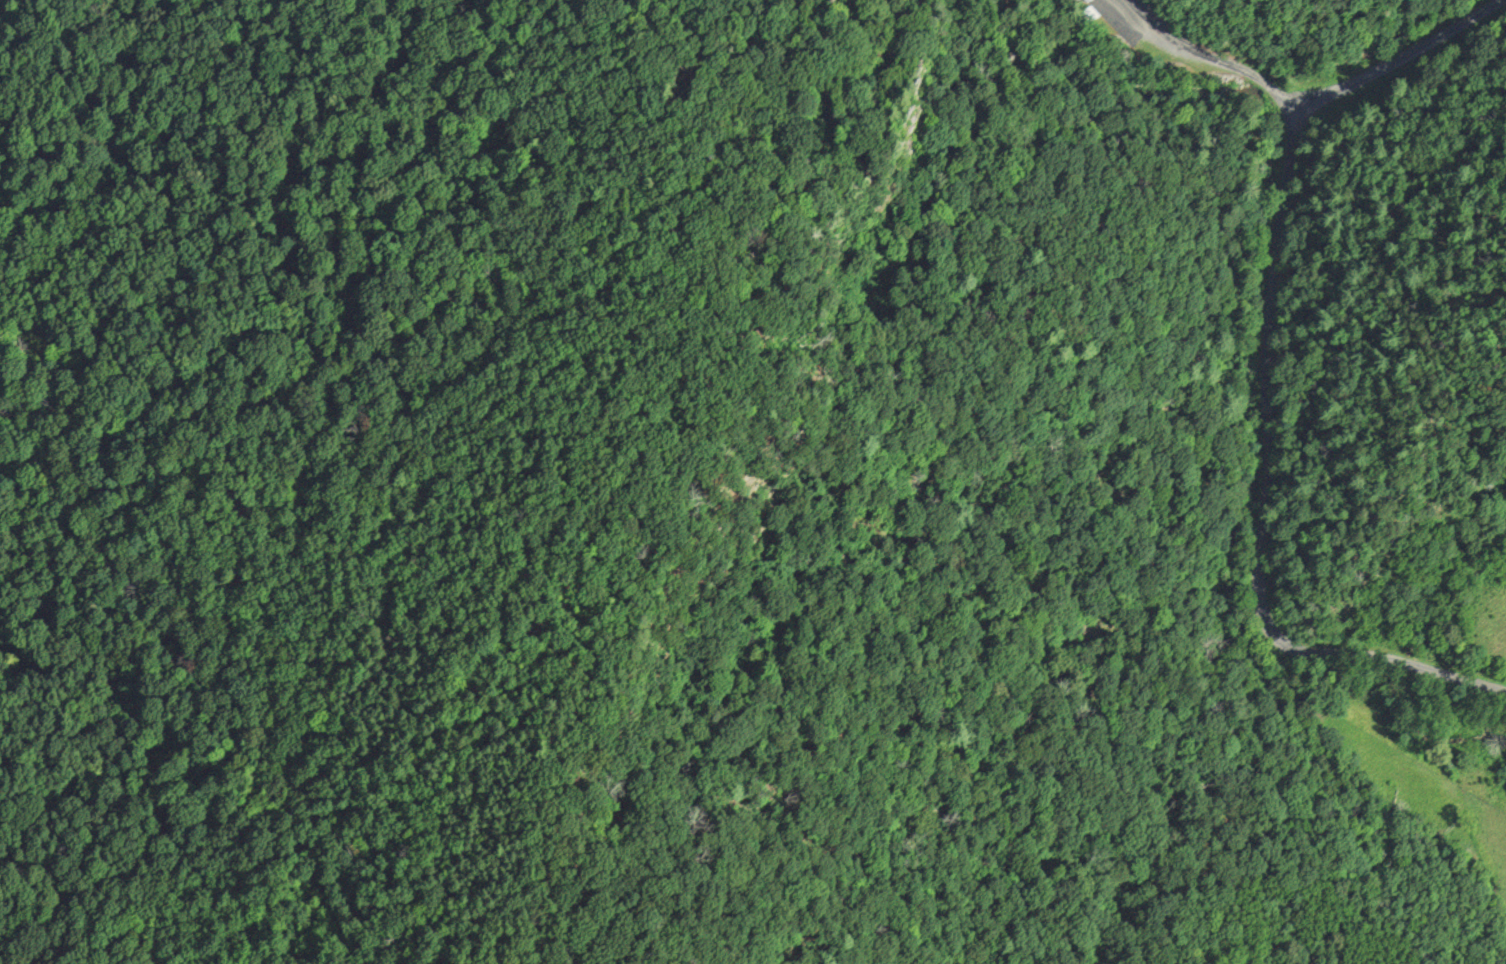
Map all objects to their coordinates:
road: (1211, 57)
road: (1395, 57)
road: (1262, 491)

